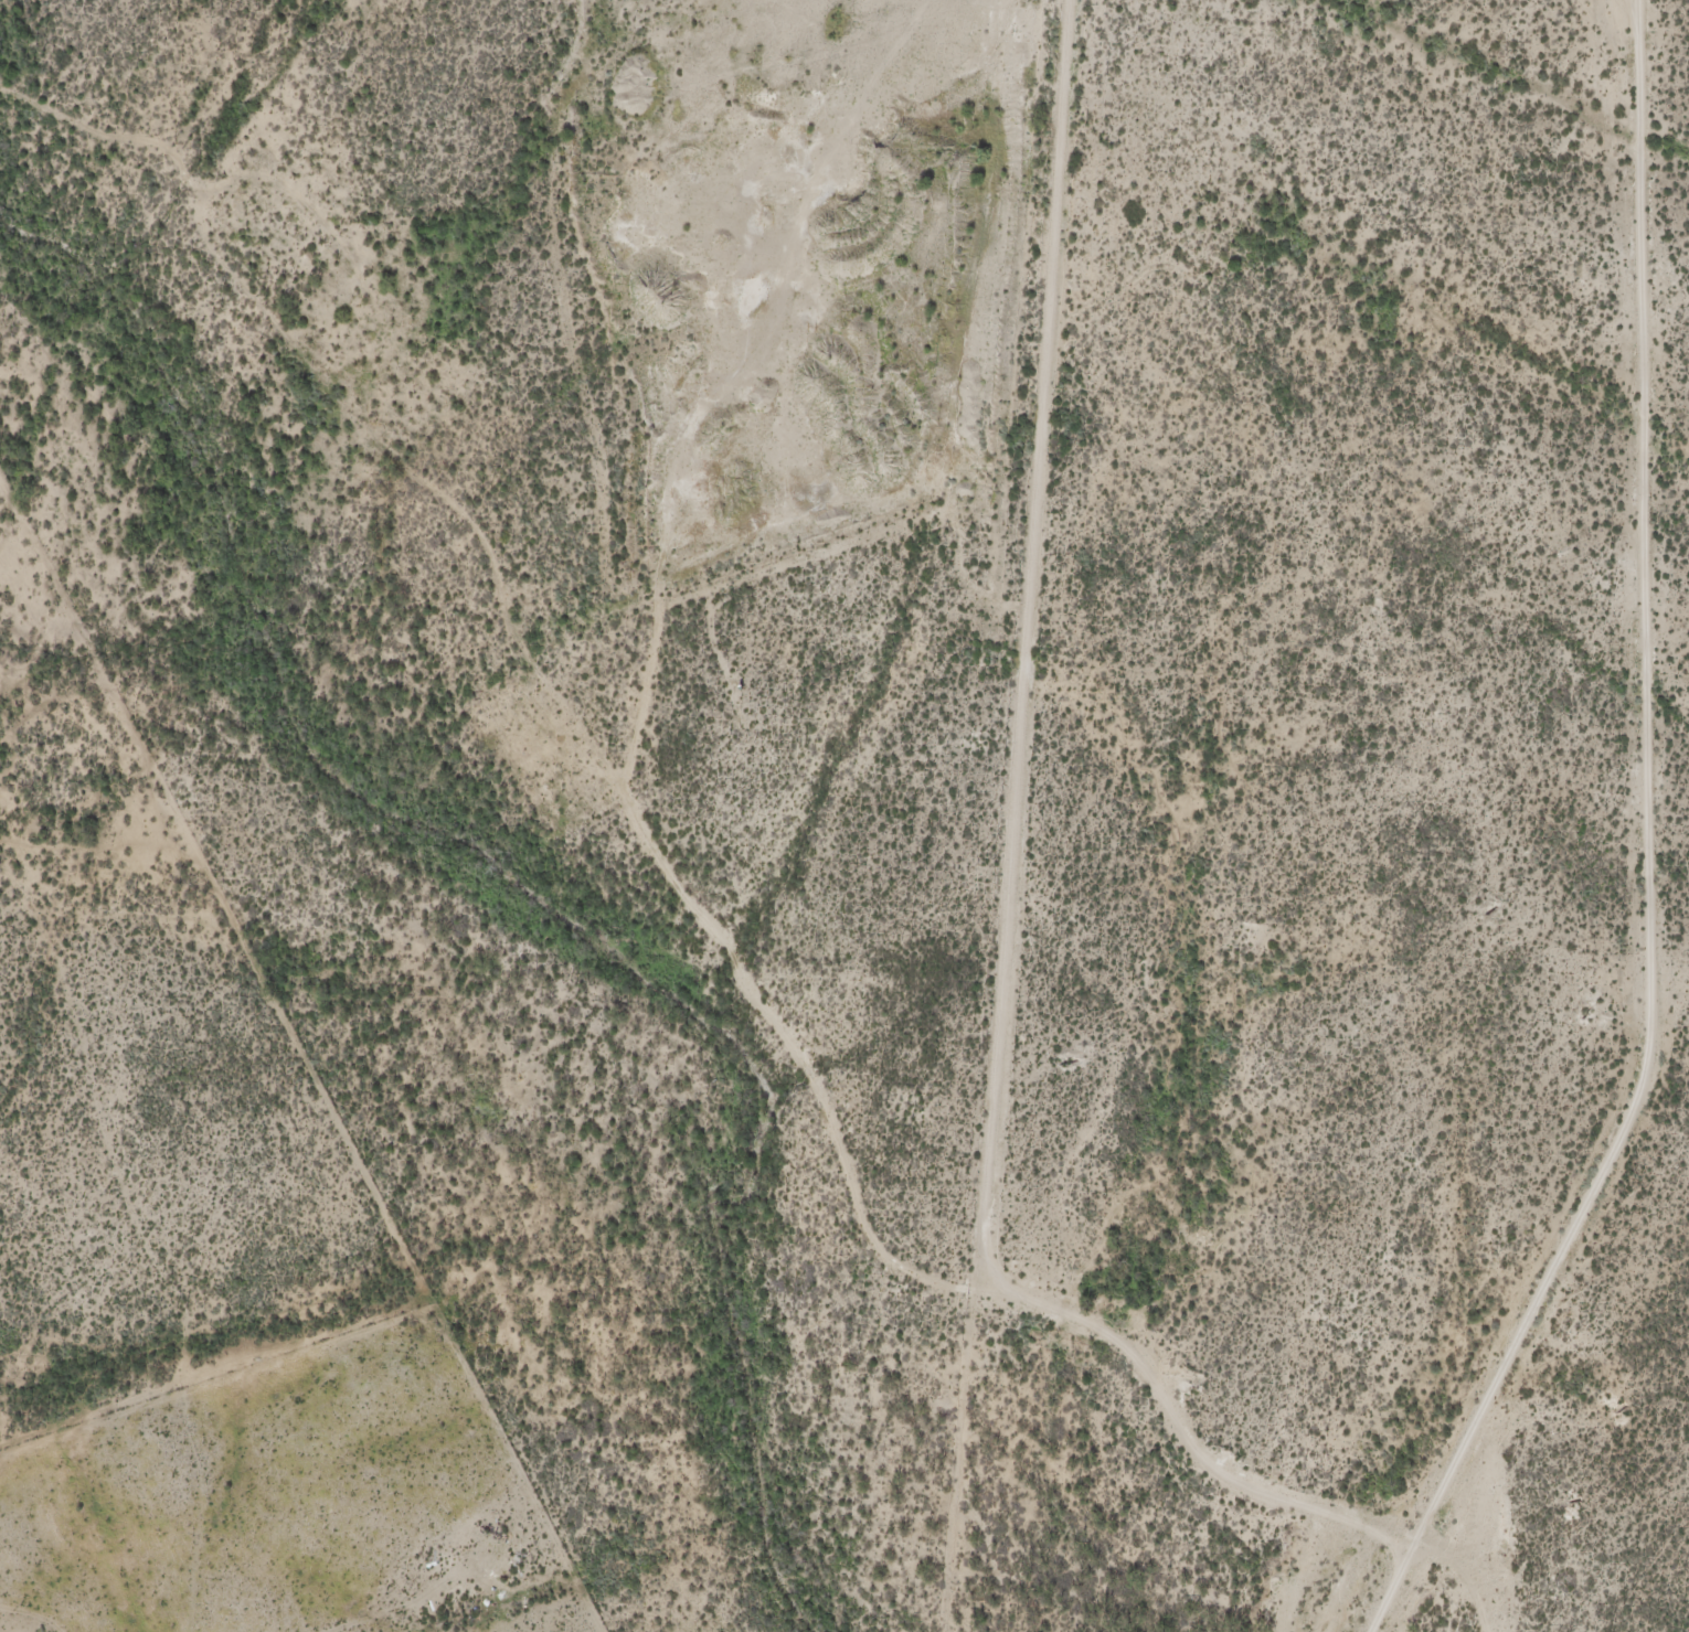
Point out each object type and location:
road: (712, 917)
road: (141, 1205)
road: (1653, 1575)

